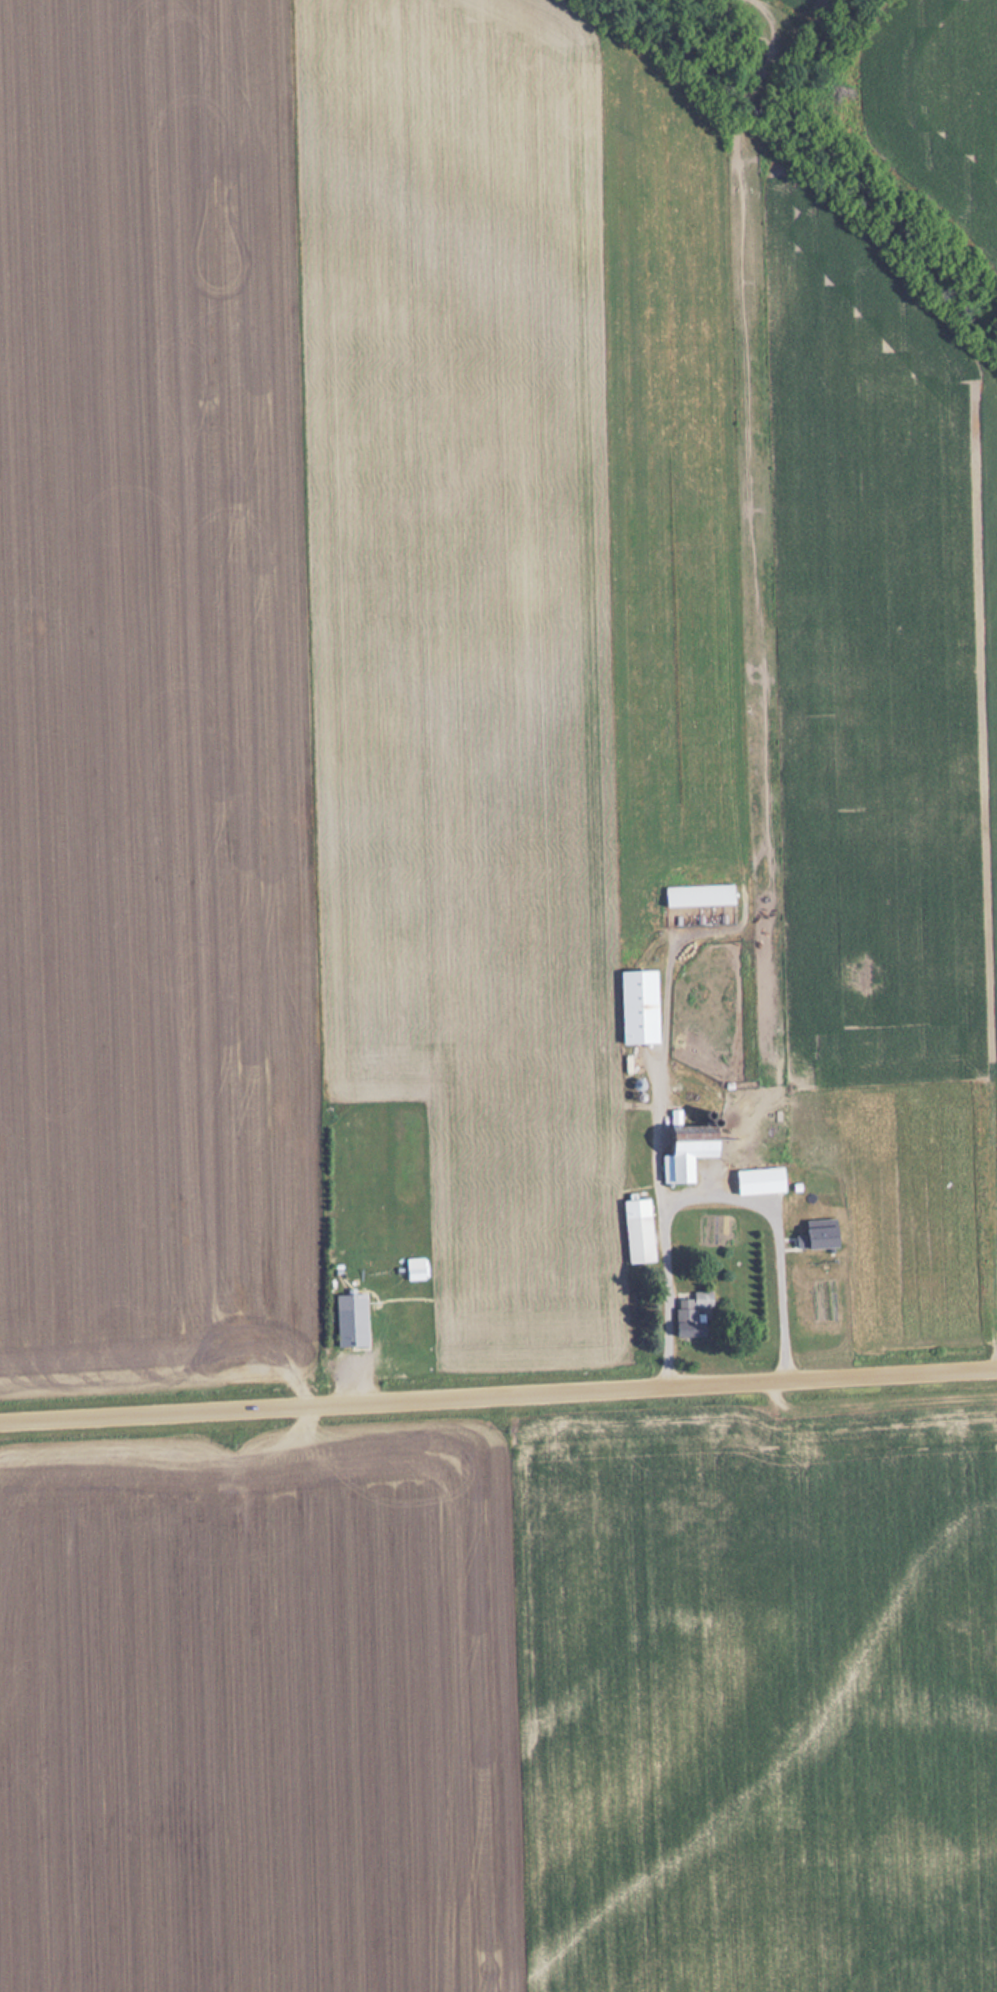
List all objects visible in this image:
building: (701, 895)
building: (641, 1007)
building: (691, 1152)
building: (641, 1240)
building: (338, 1294)
building: (694, 1315)
building: (348, 1329)
road: (498, 1398)

